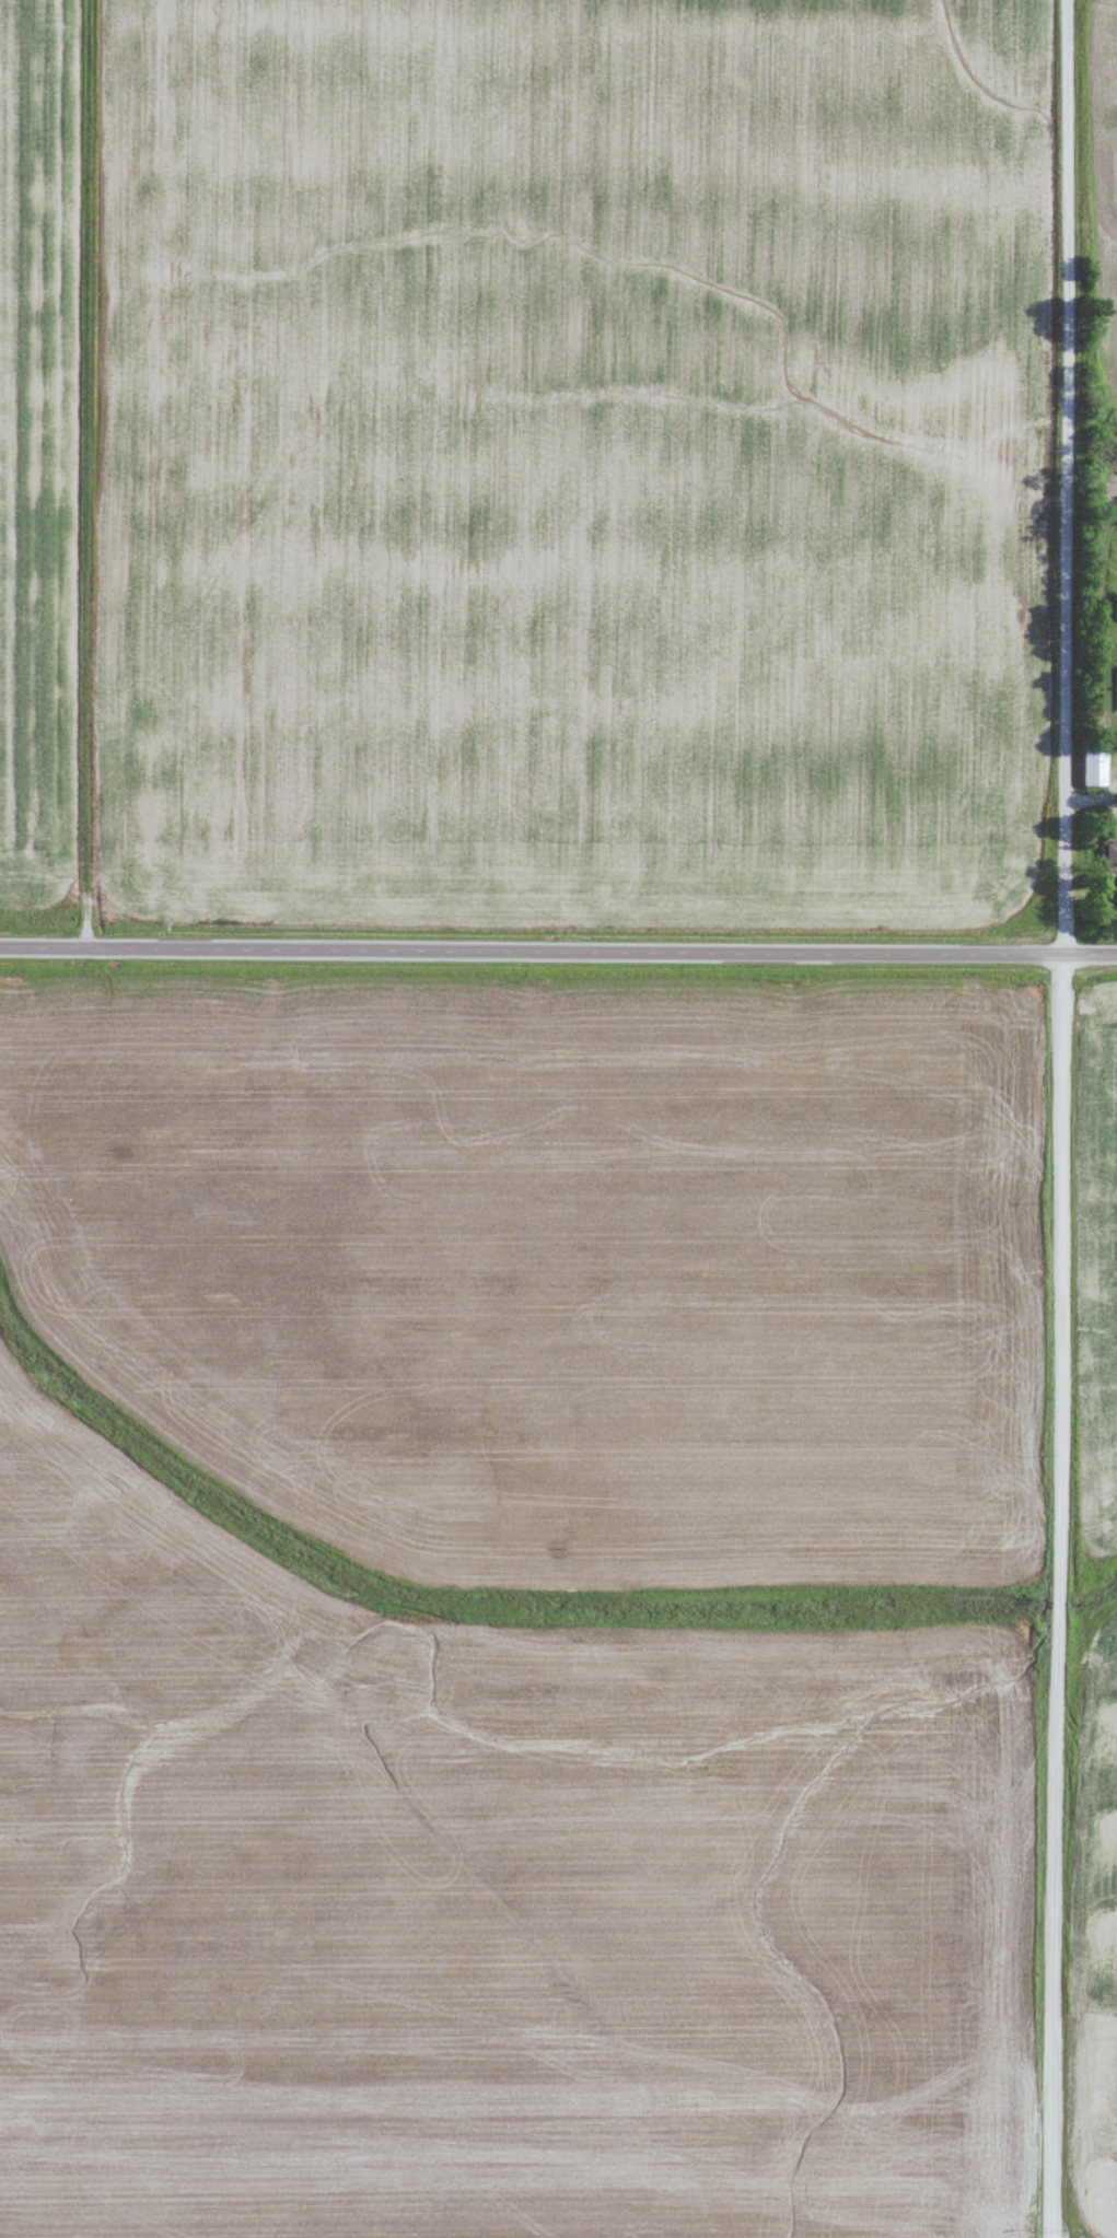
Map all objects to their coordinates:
road: (1066, 476)
building: (1093, 764)
building: (1110, 858)
road: (558, 948)
road: (1058, 1594)

